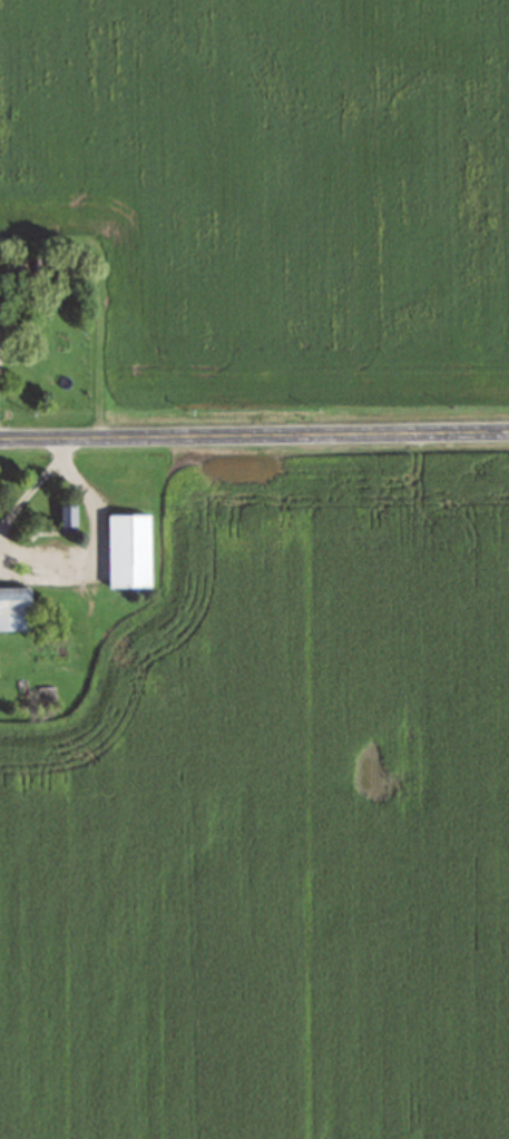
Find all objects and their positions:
road: (254, 436)
building: (67, 514)
building: (128, 550)
building: (13, 607)

